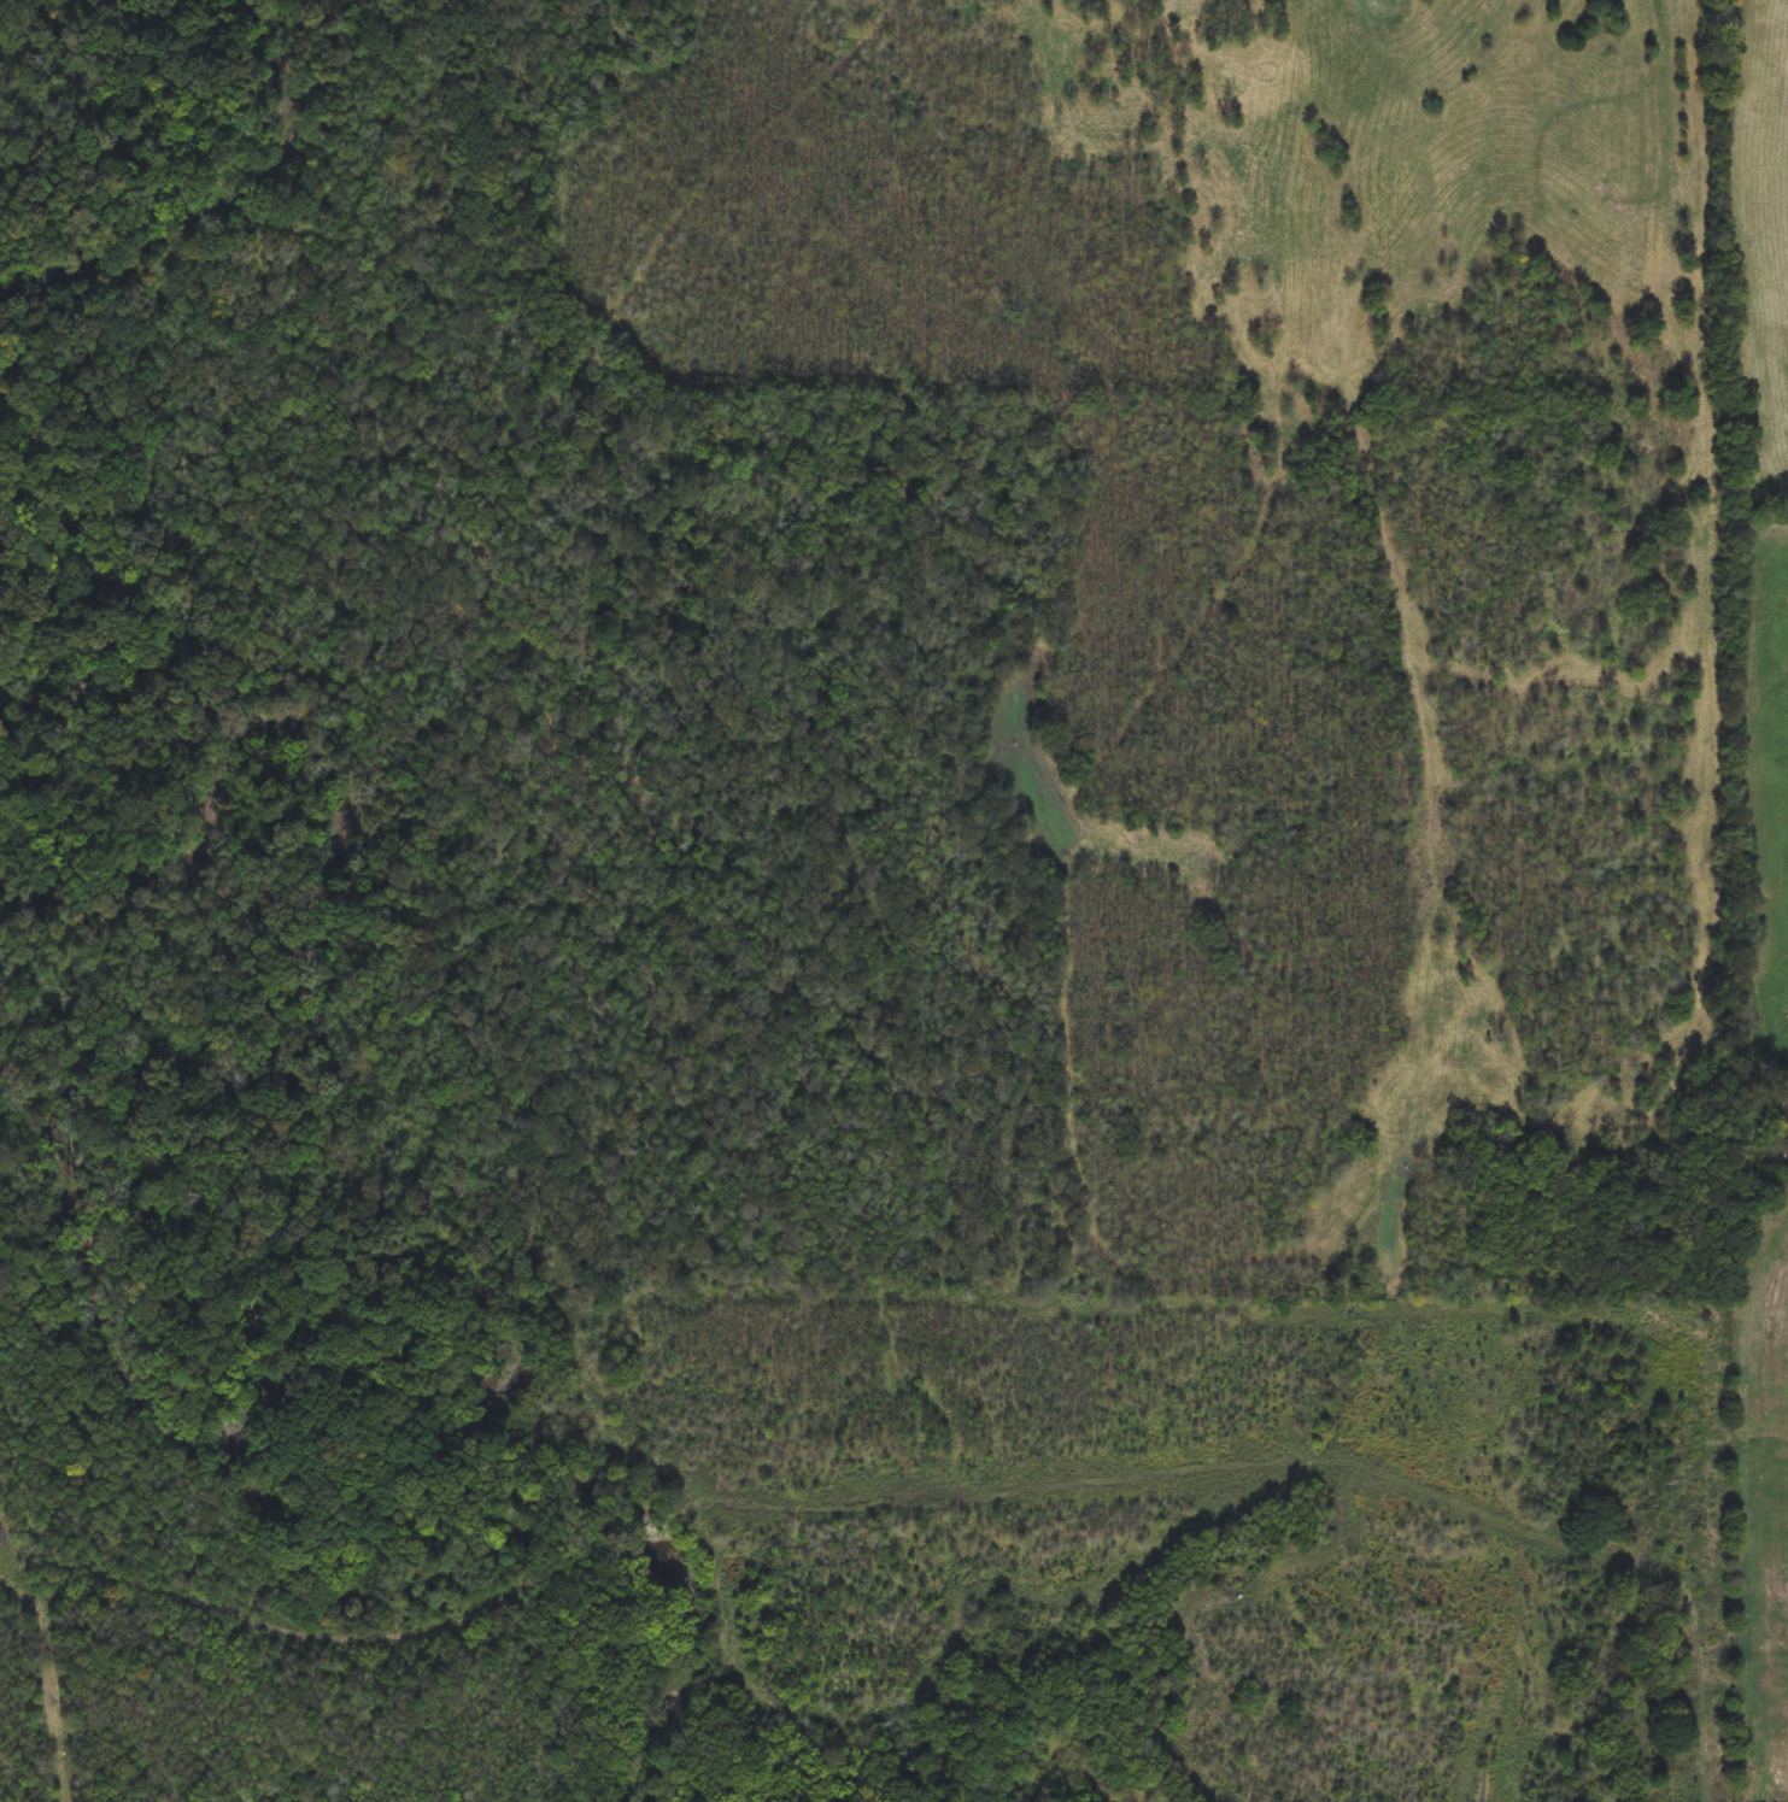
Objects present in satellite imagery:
river: (230, 199)
river: (186, 640)
river: (223, 1440)
river: (1021, 1795)

